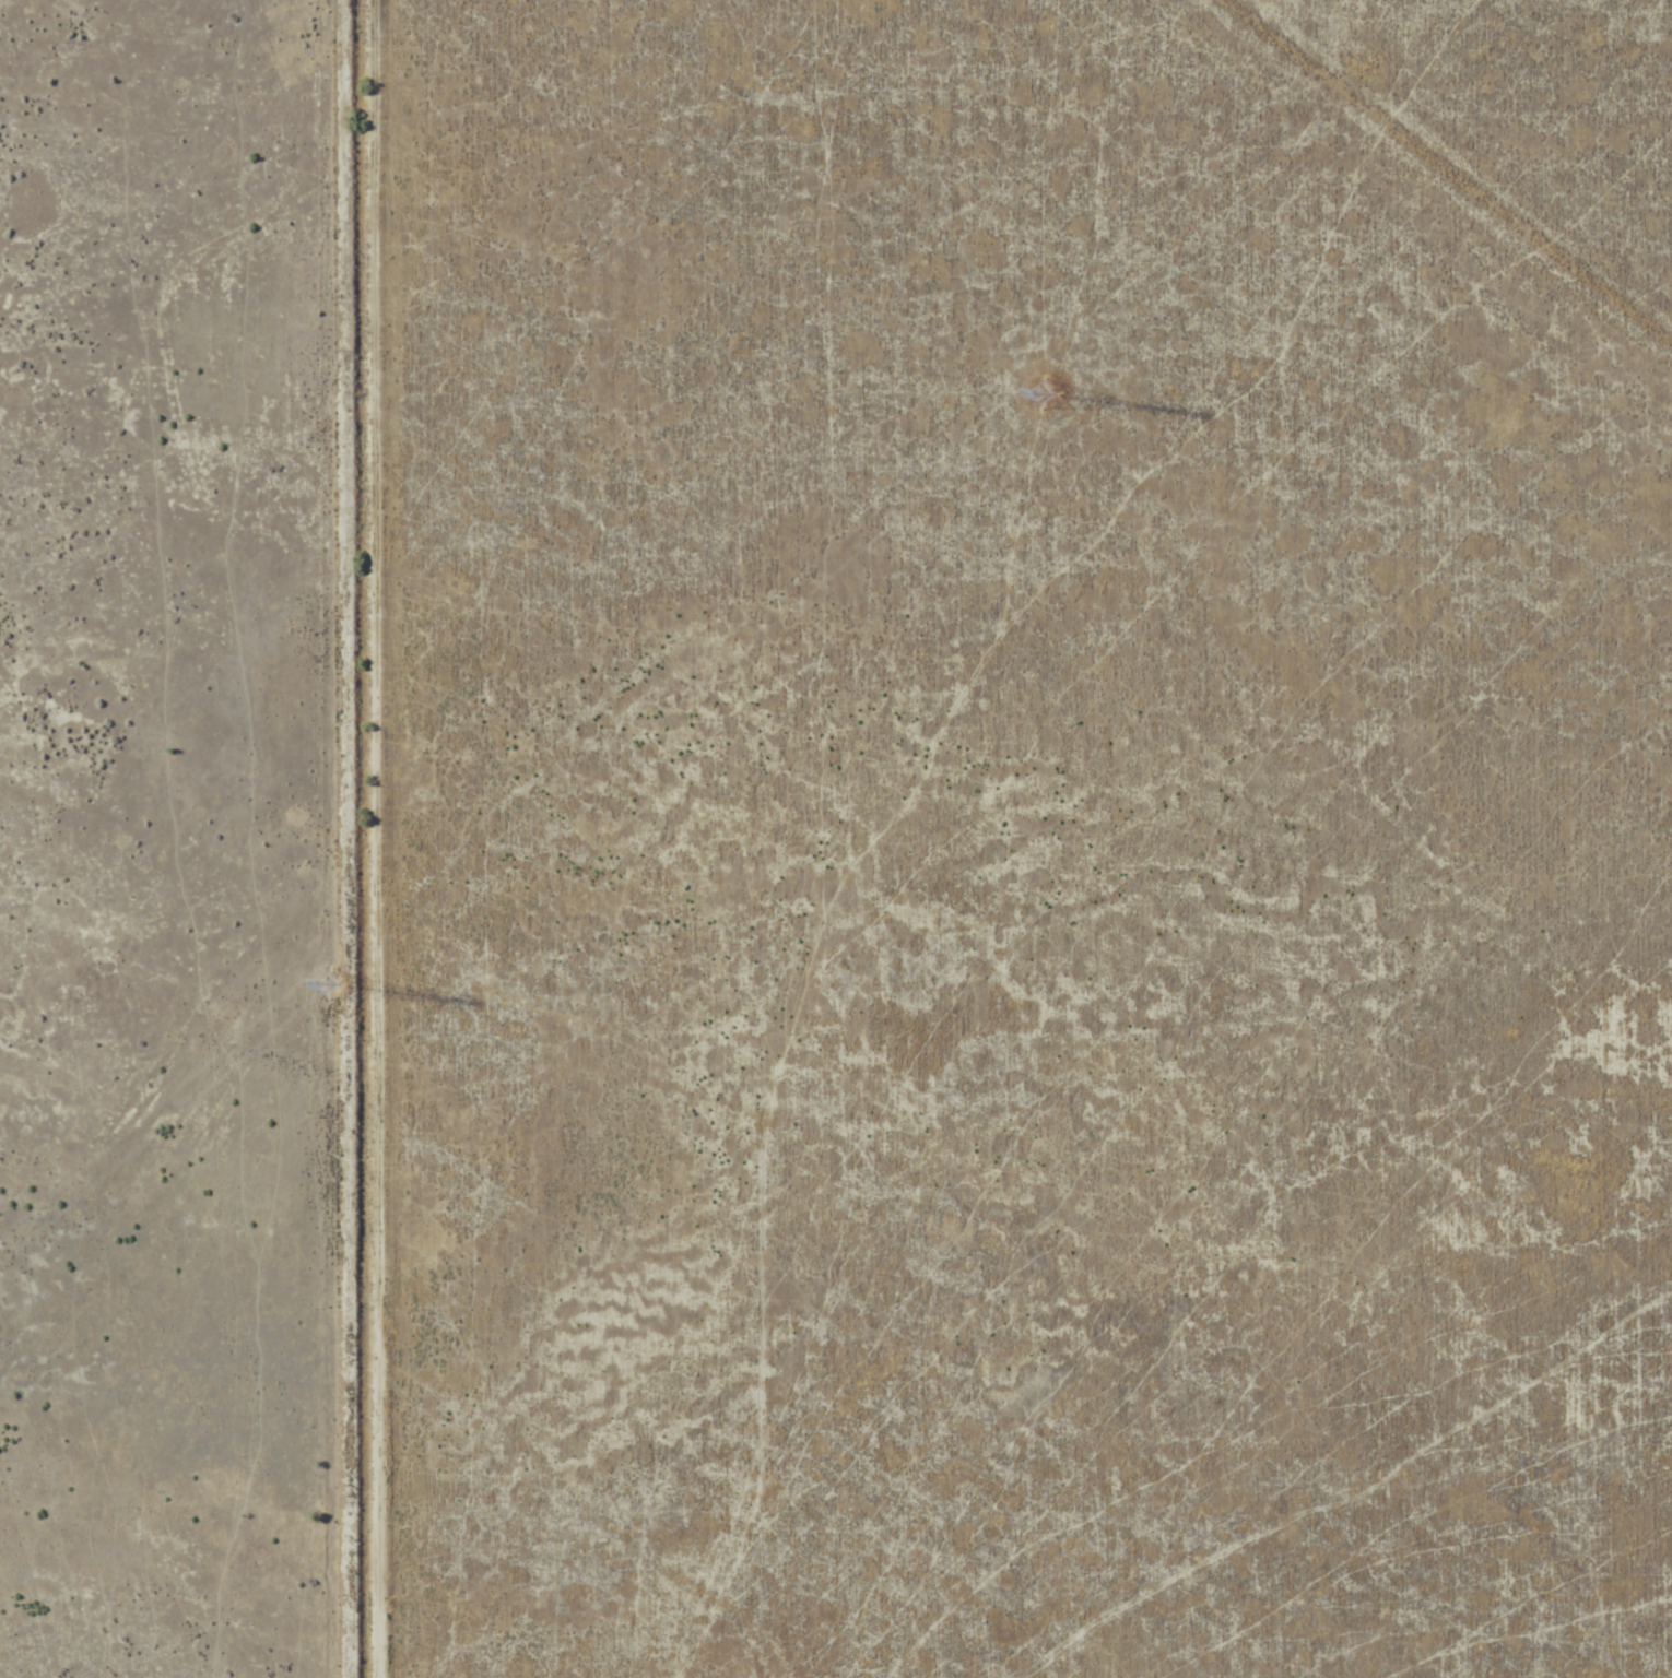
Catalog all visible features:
power tower: (1034, 385)
road: (350, 838)
power tower: (333, 996)

